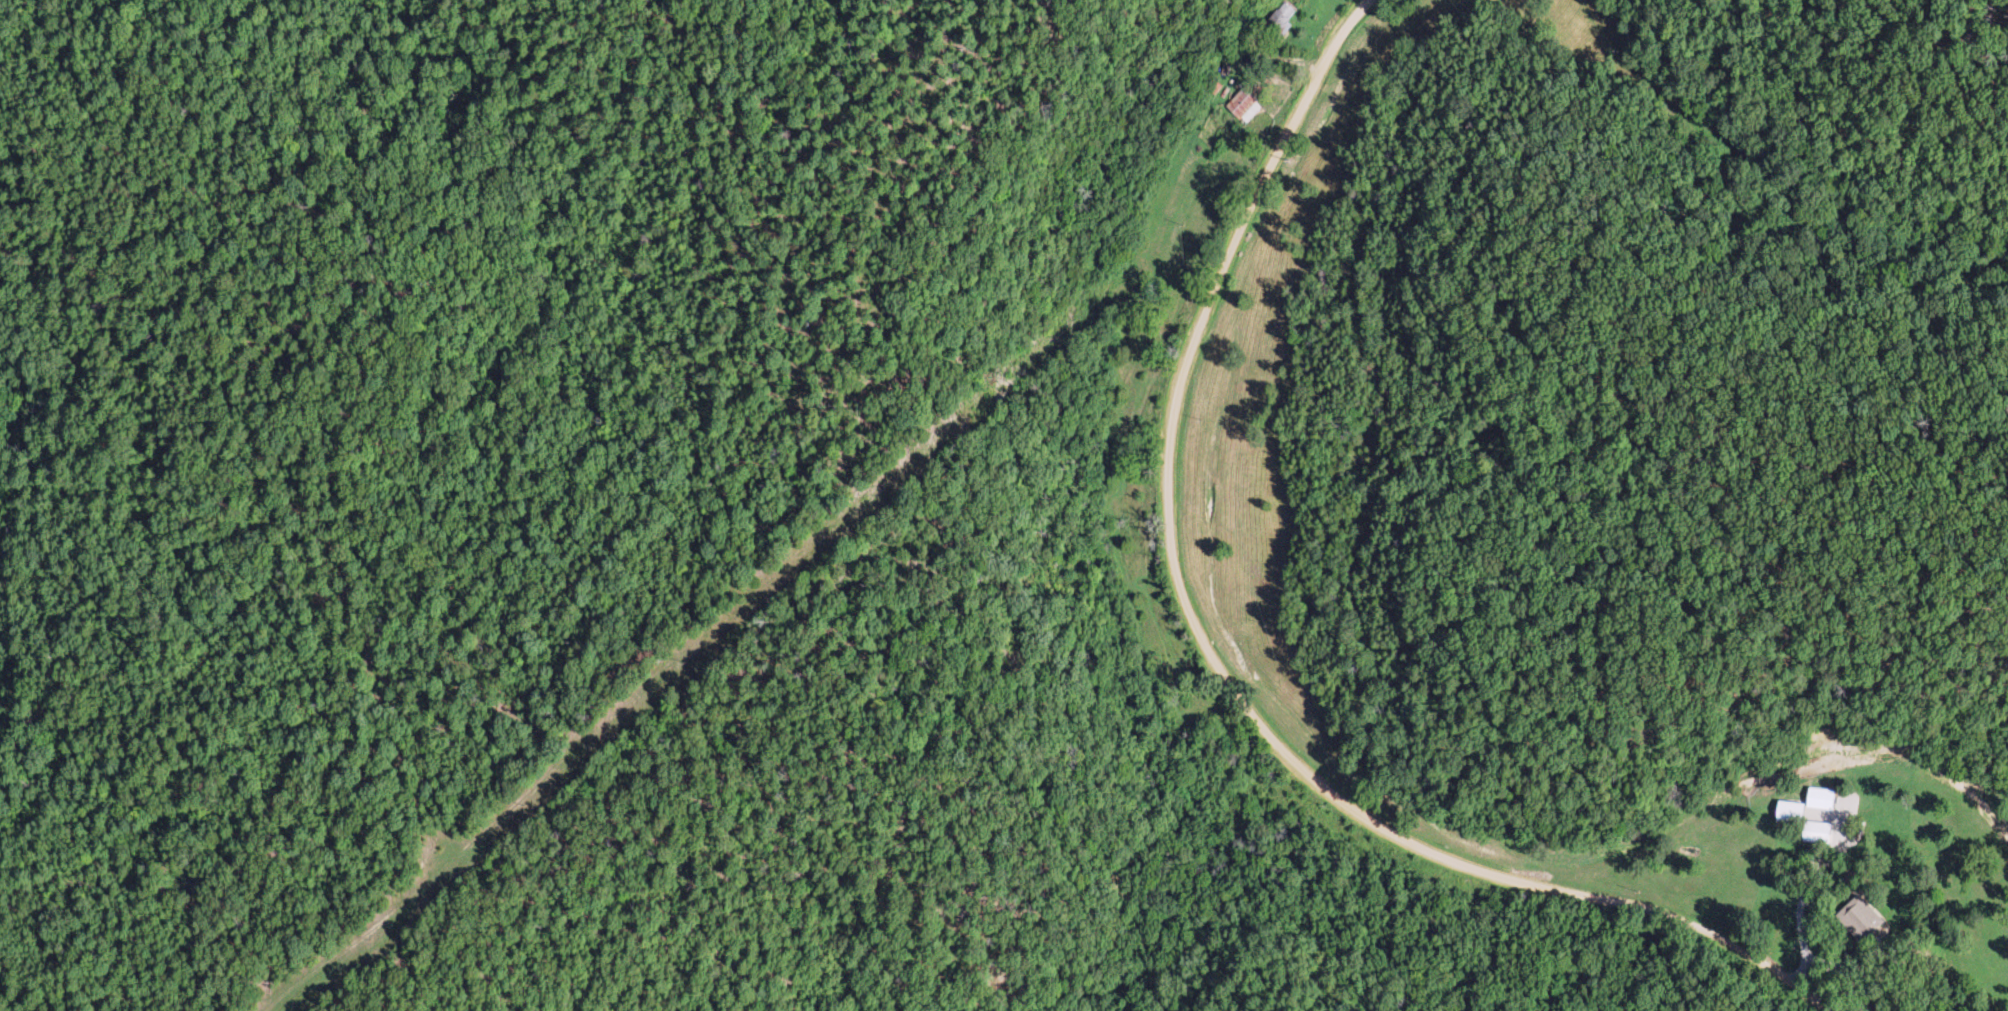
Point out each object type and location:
building: (1251, 105)
road: (1214, 669)
building: (1818, 813)
building: (1869, 916)

